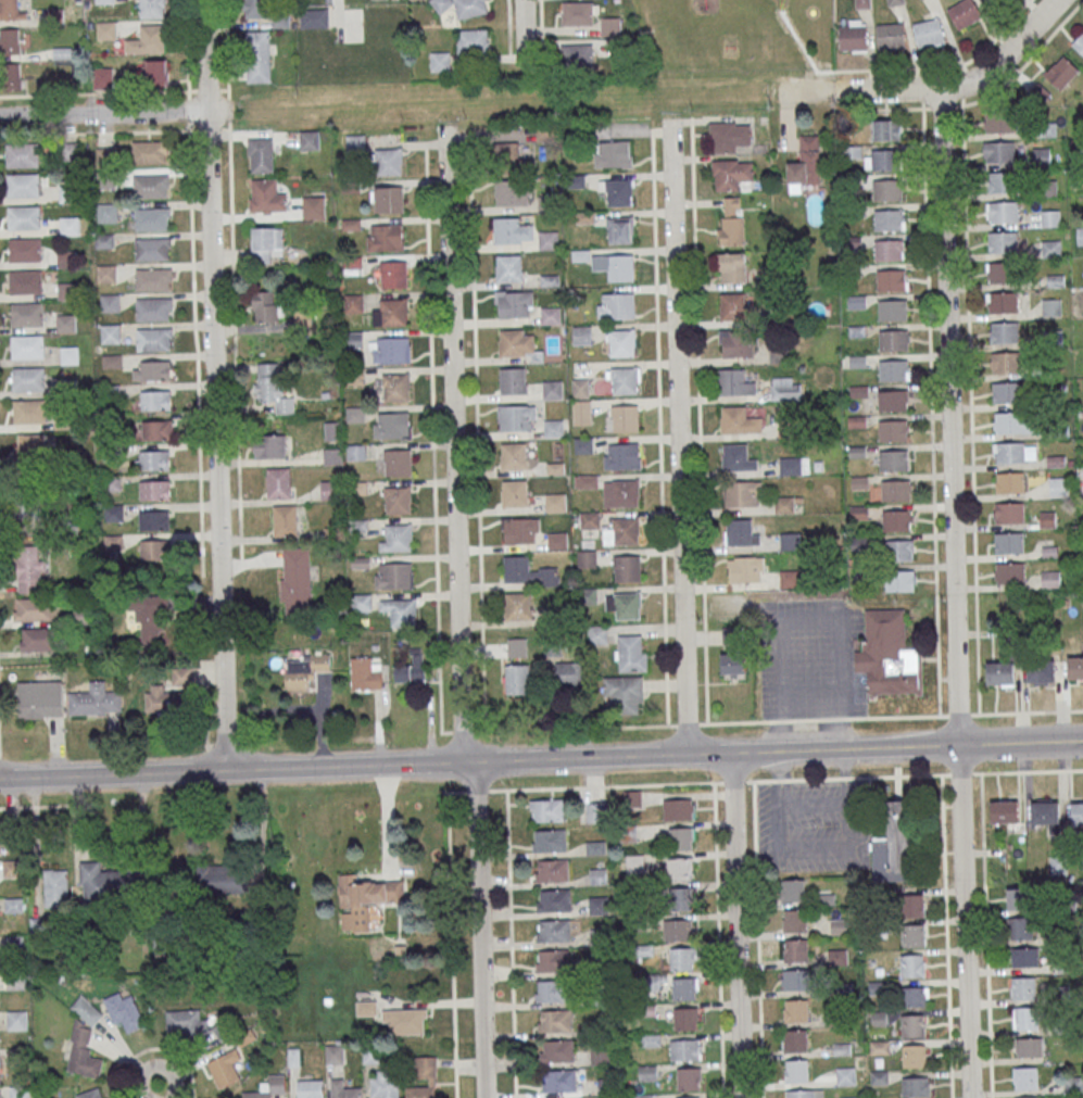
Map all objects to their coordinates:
building: (105, 1)
building: (992, 1)
building: (895, 2)
park: (783, 5)
building: (463, 7)
park: (706, 7)
building: (152, 8)
building: (257, 9)
building: (11, 10)
building: (68, 11)
building: (578, 13)
building: (965, 13)
building: (316, 18)
building: (610, 26)
road: (509, 29)
building: (929, 33)
park: (738, 34)
building: (891, 36)
building: (853, 37)
building: (151, 38)
road: (522, 39)
building: (10, 40)
building: (474, 40)
building: (1079, 43)
road: (226, 48)
road: (187, 49)
building: (64, 52)
building: (578, 54)
building: (259, 55)
building: (440, 61)
road: (1024, 63)
road: (944, 65)
building: (156, 72)
building: (1061, 72)
building: (10, 76)
building: (103, 77)
road: (936, 89)
road: (224, 90)
road: (207, 91)
road: (98, 93)
road: (942, 106)
road: (886, 108)
road: (228, 110)
road: (189, 112)
road: (103, 114)
building: (999, 121)
road: (209, 129)
building: (886, 129)
road: (225, 130)
road: (193, 131)
road: (95, 134)
building: (729, 136)
building: (310, 140)
building: (70, 151)
building: (149, 151)
building: (1000, 152)
building: (613, 153)
building: (22, 154)
building: (261, 155)
building: (511, 155)
building: (883, 160)
building: (389, 161)
building: (805, 163)
building: (732, 174)
building: (1004, 181)
building: (24, 185)
building: (151, 186)
building: (889, 190)
building: (513, 192)
building: (619, 192)
building: (266, 197)
building: (388, 199)
building: (547, 202)
building: (314, 207)
building: (1004, 212)
building: (108, 213)
building: (24, 217)
building: (585, 217)
building: (1050, 217)
building: (152, 219)
building: (890, 219)
building: (731, 222)
building: (70, 225)
building: (620, 229)
building: (511, 230)
building: (1080, 236)
building: (386, 237)
building: (549, 239)
building: (104, 240)
building: (1003, 241)
building: (266, 242)
building: (1051, 247)
building: (152, 248)
building: (889, 249)
building: (25, 250)
building: (66, 257)
building: (615, 266)
building: (732, 266)
building: (508, 267)
building: (1003, 272)
building: (106, 273)
building: (393, 275)
building: (153, 278)
building: (892, 280)
building: (26, 281)
building: (67, 290)
building: (1003, 302)
building: (110, 303)
building: (354, 303)
building: (515, 304)
building: (618, 305)
building: (732, 306)
building: (267, 307)
building: (153, 308)
building: (893, 311)
building: (394, 312)
building: (27, 314)
building: (550, 314)
building: (66, 323)
building: (1005, 332)
building: (110, 333)
building: (582, 333)
building: (153, 339)
building: (355, 339)
building: (893, 341)
building: (511, 342)
building: (621, 342)
road: (235, 343)
building: (738, 343)
building: (27, 346)
building: (392, 350)
road: (197, 351)
building: (70, 354)
building: (112, 361)
building: (1006, 362)
building: (153, 370)
building: (893, 370)
building: (28, 378)
building: (513, 380)
building: (625, 380)
building: (735, 382)
road: (214, 386)
building: (273, 387)
building: (395, 387)
building: (580, 388)
building: (552, 389)
building: (112, 392)
building: (1008, 392)
building: (156, 400)
building: (893, 401)
road: (970, 408)
building: (30, 411)
road: (931, 411)
building: (582, 412)
building: (355, 413)
building: (517, 417)
building: (626, 418)
road: (700, 419)
building: (736, 420)
building: (1015, 422)
building: (394, 425)
building: (553, 428)
building: (158, 429)
building: (332, 430)
road: (477, 431)
building: (893, 431)
road: (680, 437)
building: (34, 444)
building: (583, 444)
building: (269, 446)
building: (356, 452)
building: (1009, 452)
building: (332, 455)
building: (514, 455)
building: (622, 456)
building: (738, 458)
building: (154, 459)
building: (894, 460)
building: (398, 463)
building: (791, 466)
building: (588, 480)
building: (113, 482)
building: (278, 482)
building: (1010, 482)
building: (1058, 487)
building: (329, 489)
building: (154, 490)
building: (896, 491)
building: (515, 493)
building: (621, 493)
building: (740, 494)
building: (398, 500)
building: (555, 503)
building: (36, 505)
building: (114, 513)
building: (1010, 513)
building: (590, 519)
building: (154, 520)
building: (285, 520)
building: (896, 520)
building: (520, 530)
building: (622, 531)
building: (741, 532)
building: (396, 538)
building: (557, 540)
building: (789, 540)
building: (1009, 542)
building: (154, 550)
road: (436, 550)
building: (899, 551)
building: (585, 558)
road: (663, 558)
road: (251, 561)
building: (516, 568)
building: (627, 568)
building: (743, 568)
building: (1009, 572)
building: (29, 573)
building: (398, 576)
building: (297, 580)
building: (899, 581)
road: (954, 593)
building: (361, 602)
building: (518, 605)
building: (624, 605)
building: (35, 609)
building: (400, 611)
road: (459, 615)
building: (150, 617)
building: (597, 634)
building: (37, 639)
building: (516, 647)
building: (632, 653)
building: (889, 655)
parking lot: (810, 658)
building: (733, 664)
building: (412, 667)
building: (1075, 667)
building: (304, 670)
building: (1042, 671)
building: (365, 673)
building: (568, 673)
building: (1000, 673)
building: (517, 679)
building: (625, 693)
building: (40, 699)
building: (96, 699)
building: (166, 701)
road: (1010, 711)
road: (907, 748)
road: (710, 756)
road: (344, 768)
road: (761, 780)
building: (632, 799)
road: (34, 807)
building: (546, 809)
building: (679, 809)
building: (594, 811)
building: (1006, 811)
building: (1076, 812)
building: (1045, 813)
building: (681, 838)
building: (550, 840)
road: (36, 845)
building: (894, 845)
building: (634, 863)
building: (1057, 864)
building: (680, 869)
building: (552, 870)
building: (597, 875)
building: (222, 880)
building: (102, 882)
building: (55, 887)
building: (792, 889)
building: (679, 898)
building: (1017, 898)
building: (365, 900)
building: (554, 900)
building: (599, 905)
building: (914, 905)
building: (794, 920)
road: (735, 926)
building: (1020, 927)
building: (554, 930)
building: (678, 930)
building: (912, 934)
road: (985, 935)
road: (946, 936)
road: (757, 939)
road: (718, 941)
road: (511, 944)
road: (452, 945)
building: (795, 950)
building: (1024, 957)
building: (682, 958)
building: (553, 960)
building: (912, 964)
building: (793, 980)
building: (15, 981)
building: (1023, 987)
building: (684, 988)
building: (552, 990)
building: (915, 996)
building: (365, 1007)
building: (795, 1010)
building: (126, 1013)
building: (685, 1018)
building: (881, 1018)
building: (1025, 1018)
building: (16, 1020)
building: (405, 1020)
building: (555, 1020)
building: (187, 1022)
building: (912, 1025)
building: (222, 1032)
building: (795, 1040)
building: (1029, 1047)
building: (685, 1049)
building: (557, 1050)
building: (83, 1052)
building: (333, 1053)
building: (600, 1055)
building: (915, 1055)
building: (425, 1067)
building: (224, 1069)
building: (795, 1070)
building: (646, 1073)
building: (845, 1075)
building: (1024, 1077)
building: (689, 1078)
building: (559, 1081)
building: (385, 1084)
building: (916, 1086)
building: (268, 1087)
building: (310, 1088)
building: (343, 1090)
building: (20, 1091)
road: (161, 1091)
building: (91, 1094)
building: (804, 1094)
building: (0, 1095)
building: (689, 1097)
building: (848, 1097)
building: (1030, 1097)

